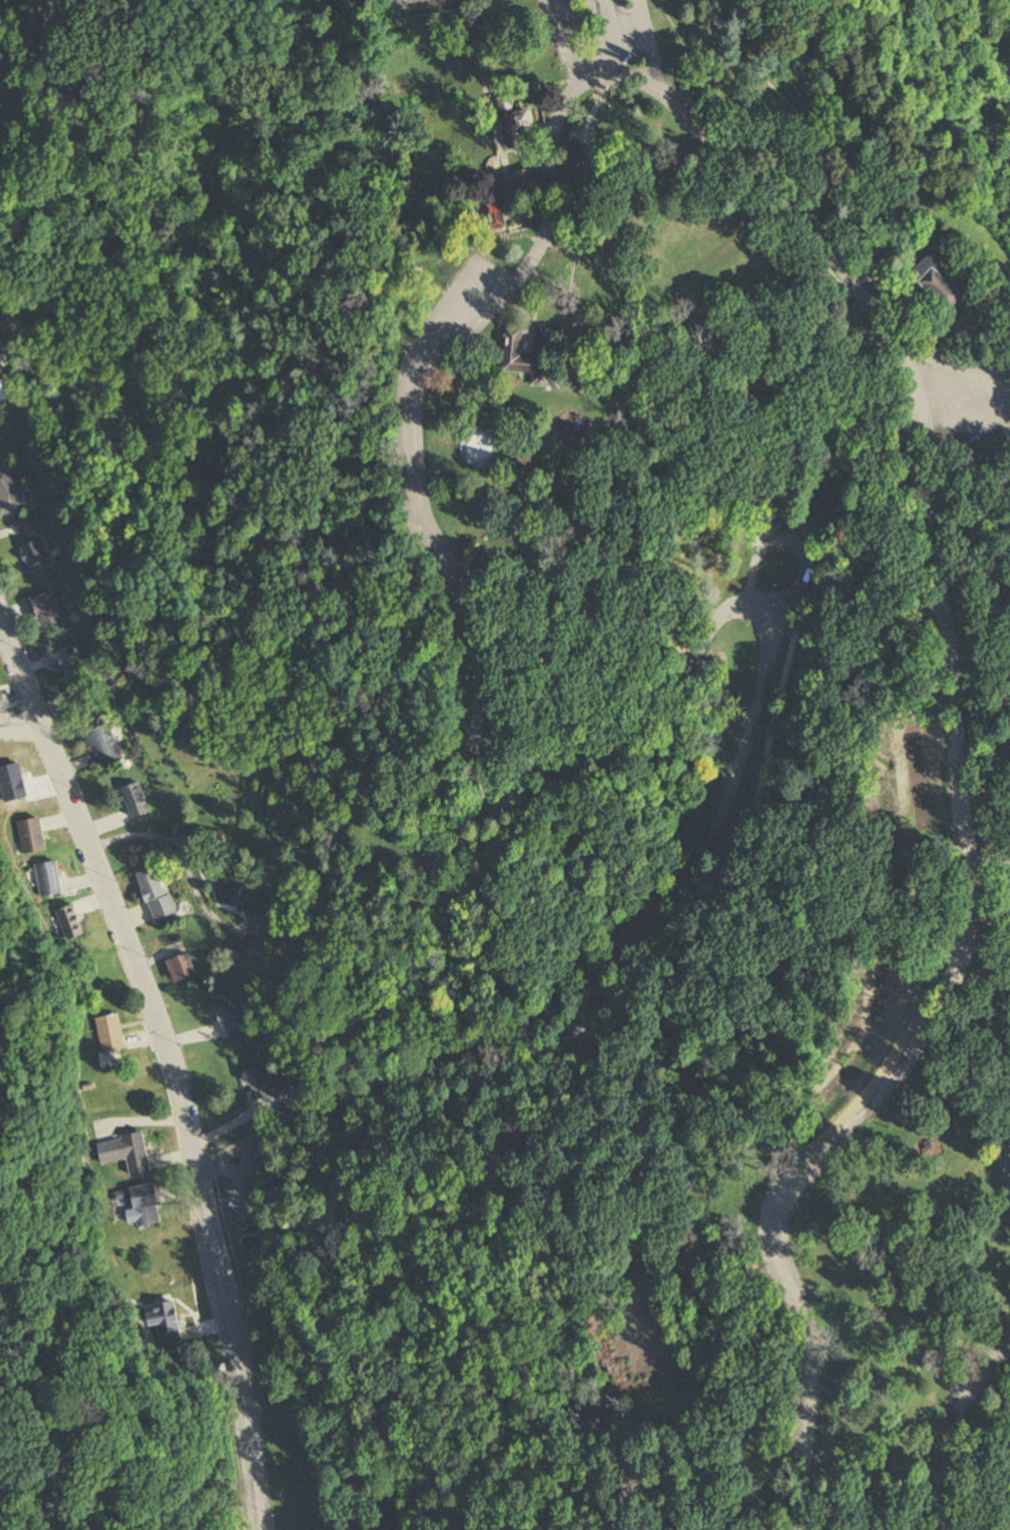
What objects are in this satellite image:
park: (485, 2)
park: (454, 4)
park: (417, 7)
parking lot: (600, 31)
road: (600, 35)
road: (650, 45)
building: (515, 122)
road: (819, 143)
building: (575, 153)
road: (765, 193)
road: (795, 201)
building: (495, 216)
building: (955, 286)
road: (844, 293)
road: (998, 310)
parking lot: (455, 316)
road: (712, 352)
building: (538, 355)
road: (956, 378)
building: (5, 391)
building: (762, 394)
parking lot: (954, 401)
road: (966, 428)
building: (9, 494)
building: (33, 522)
road: (797, 549)
building: (34, 555)
building: (71, 660)
building: (87, 699)
road: (625, 735)
road: (22, 736)
building: (103, 744)
park: (649, 772)
building: (136, 802)
building: (34, 837)
building: (50, 881)
building: (1003, 891)
building: (156, 894)
building: (236, 899)
road: (969, 912)
building: (72, 924)
building: (258, 949)
building: (183, 968)
building: (230, 1016)
building: (111, 1034)
road: (170, 1065)
road: (520, 1072)
building: (265, 1080)
building: (305, 1087)
building: (128, 1153)
road: (223, 1154)
road: (226, 1168)
building: (147, 1207)
building: (250, 1236)
road: (229, 1244)
road: (254, 1249)
building: (167, 1324)
road: (959, 1455)

